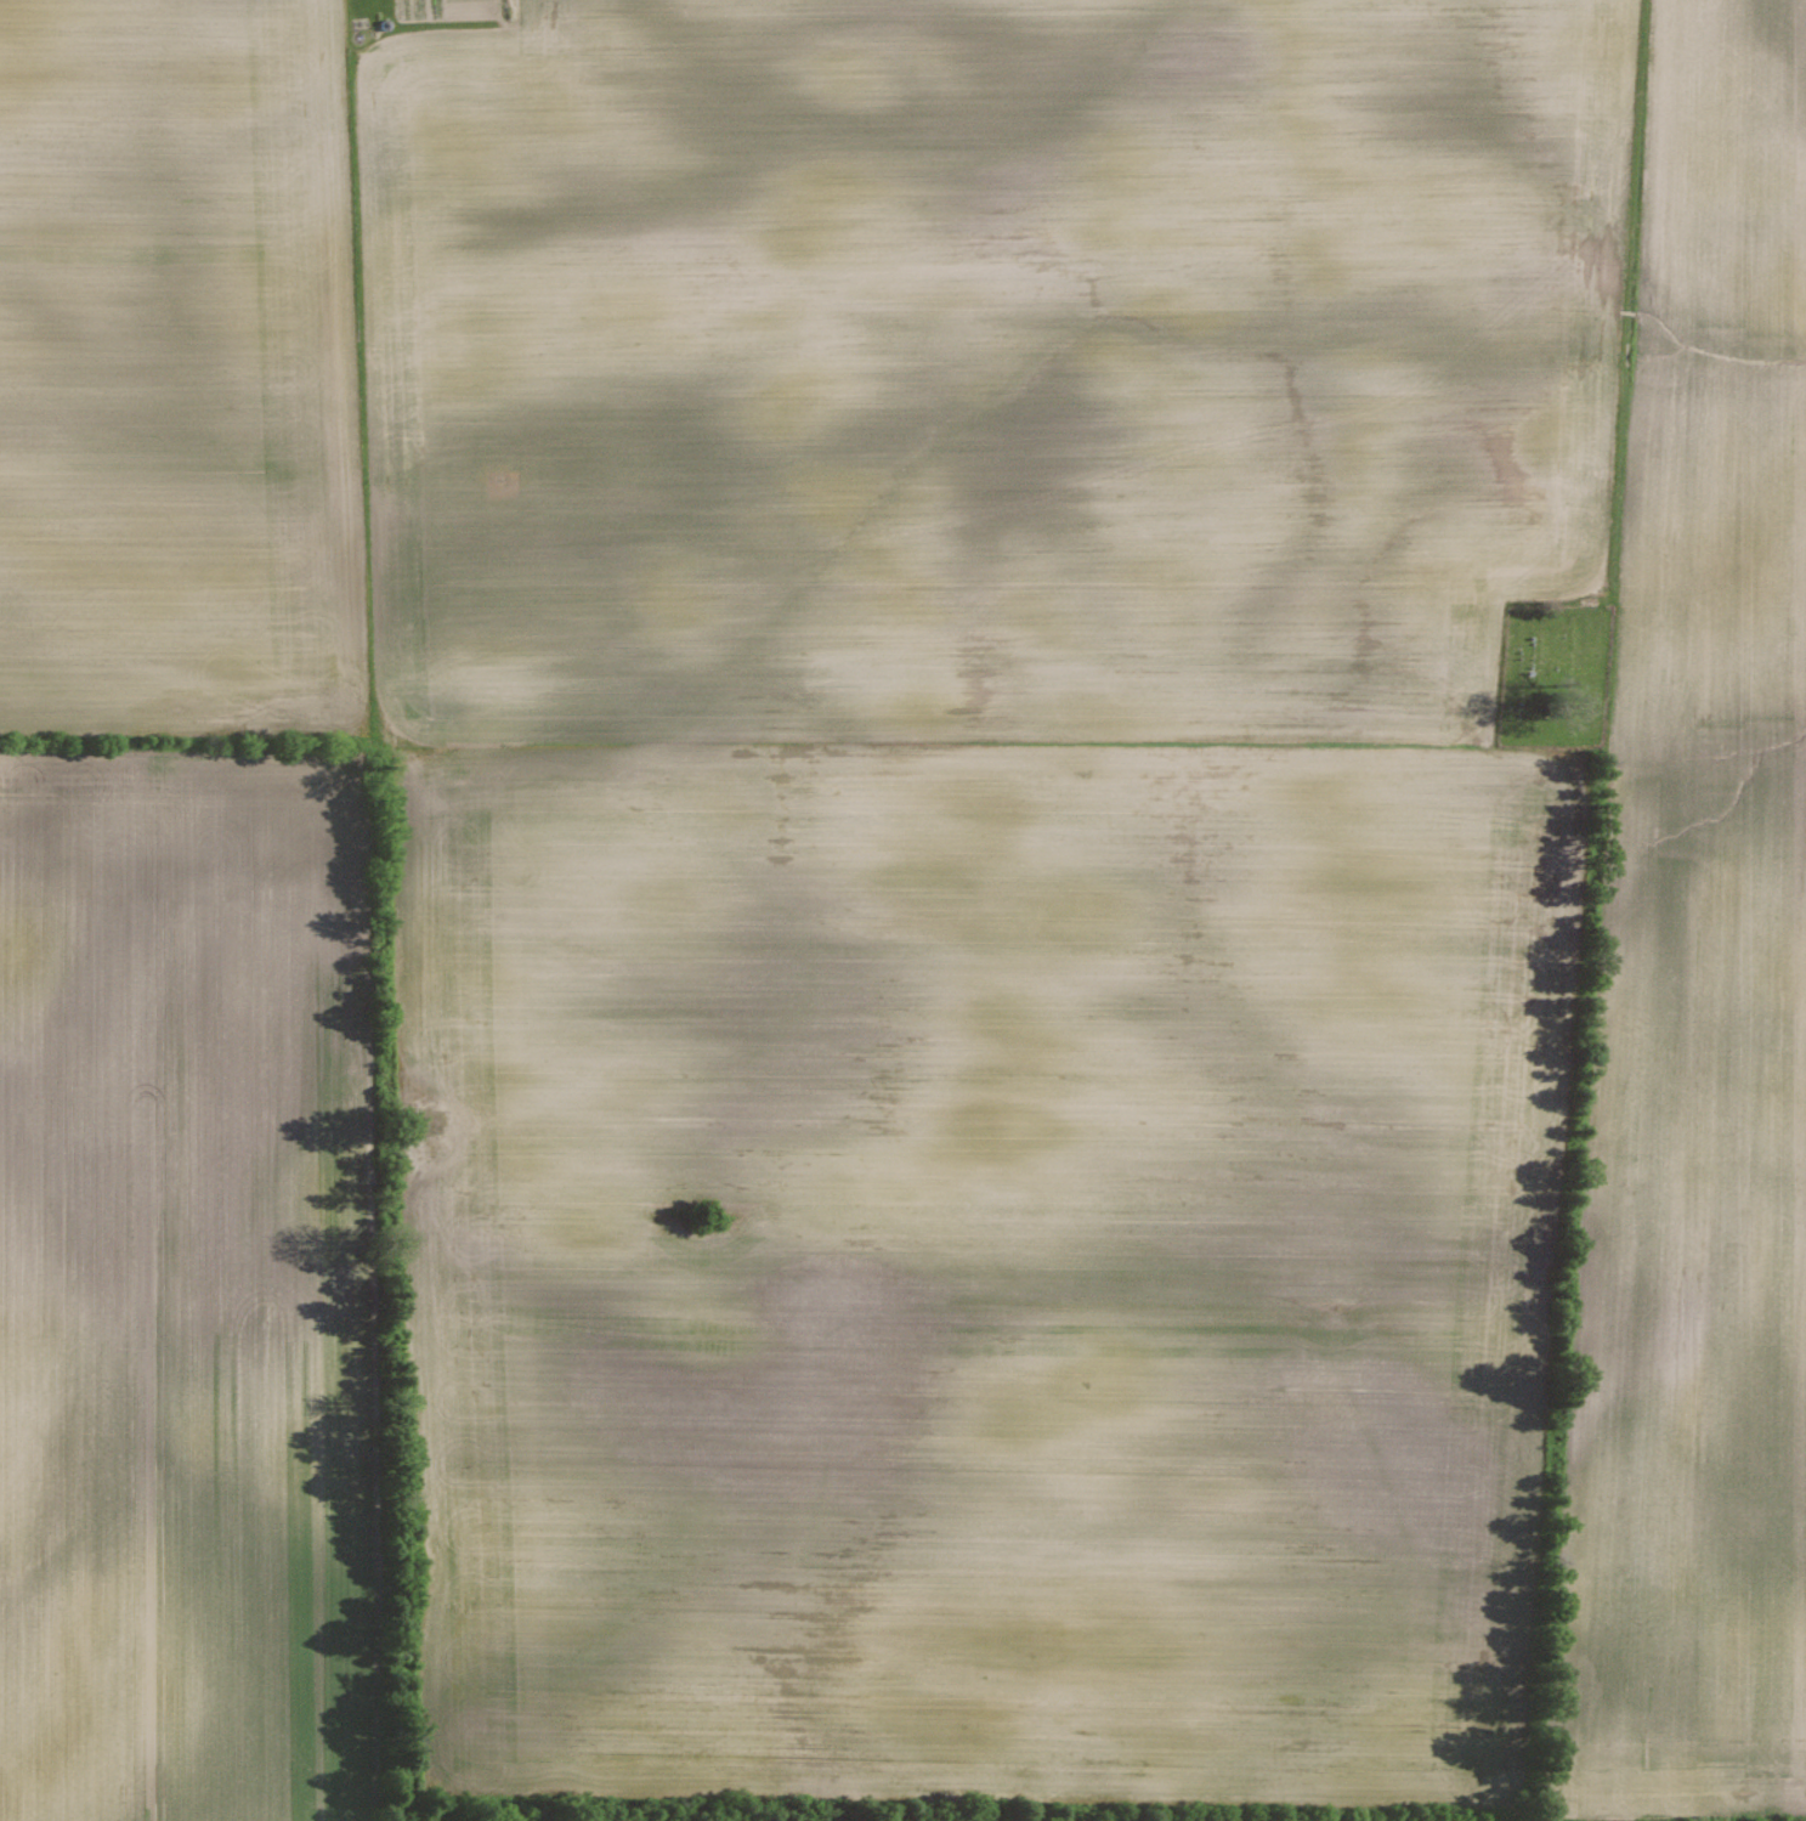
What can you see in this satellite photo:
road: (1603, 271)

